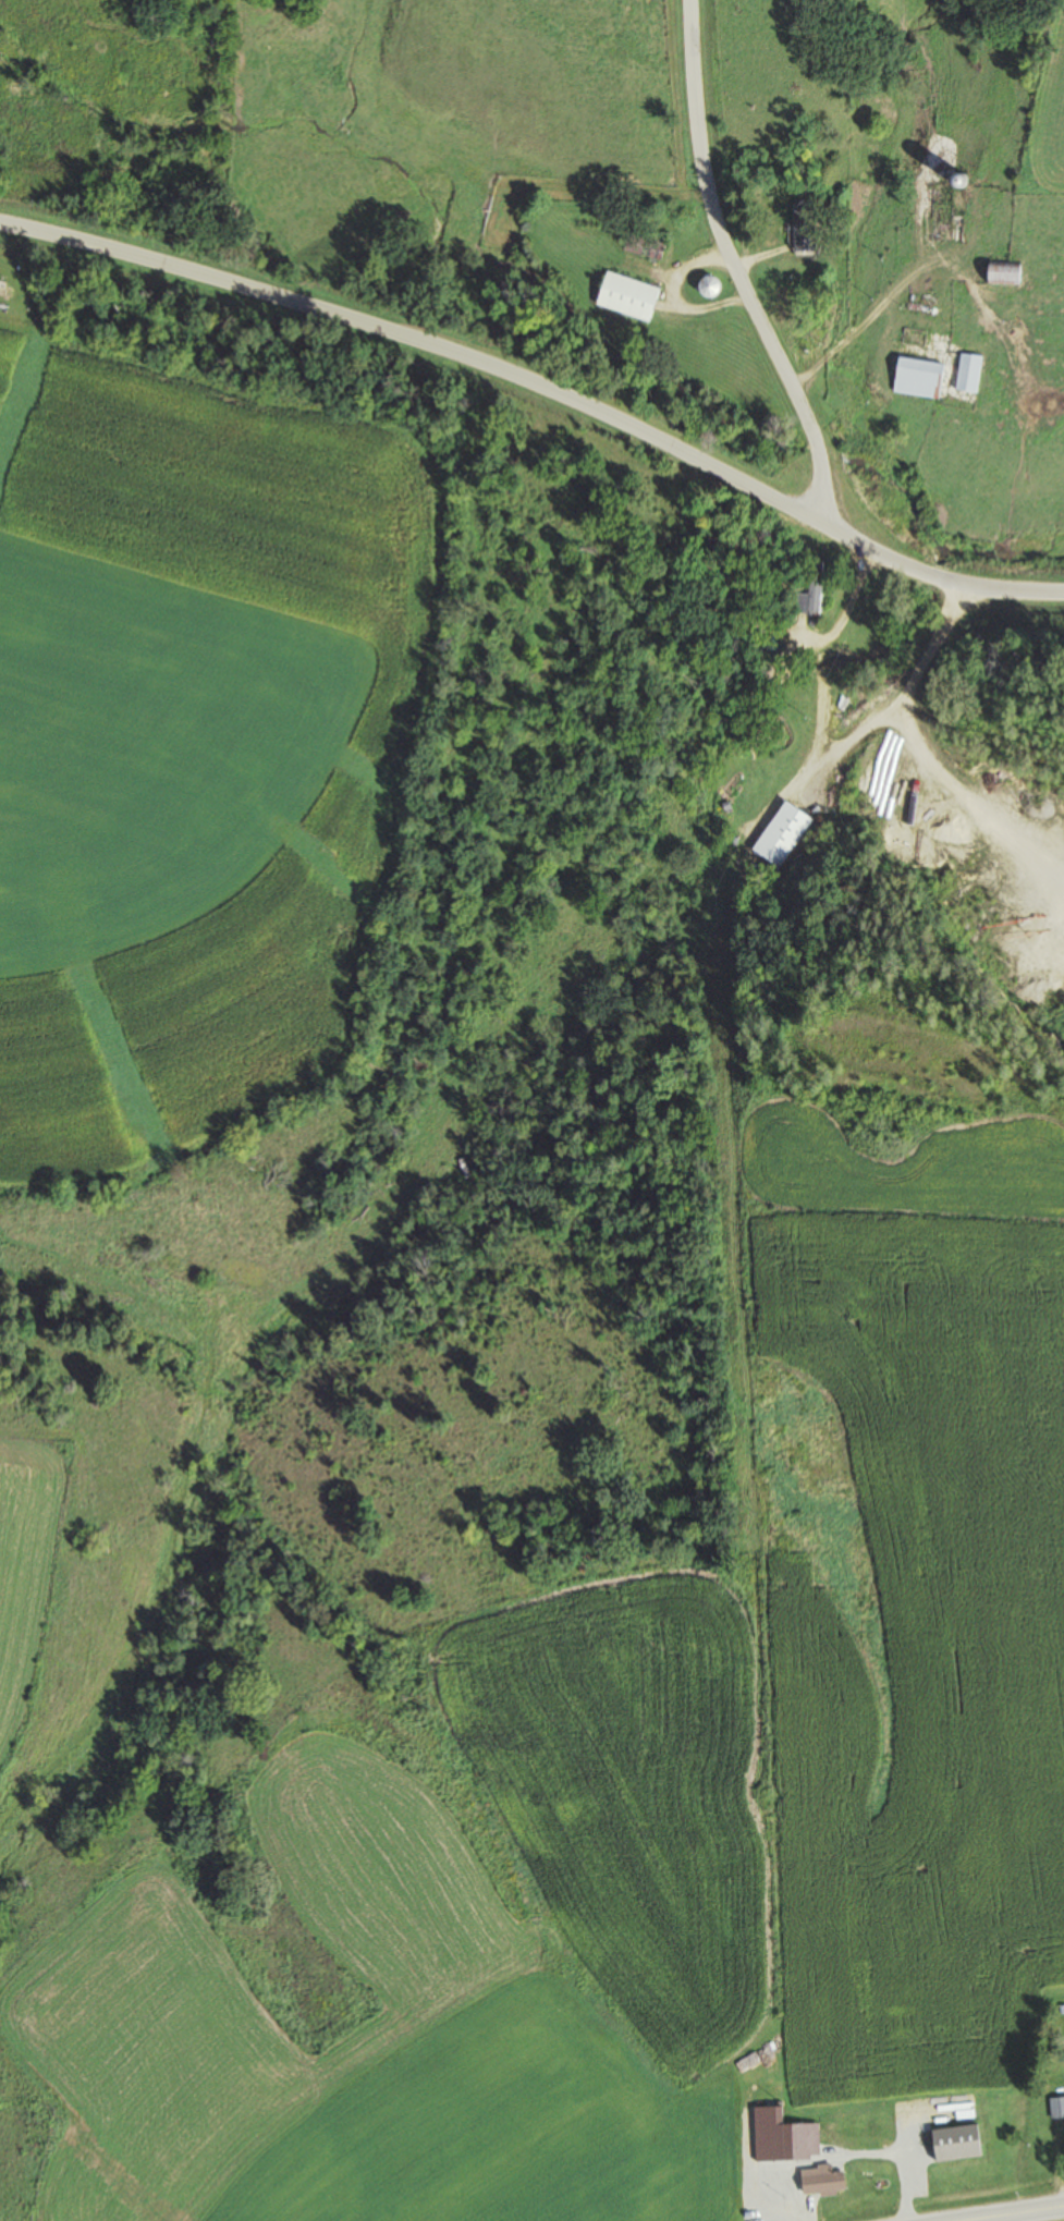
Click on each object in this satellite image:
building: (800, 225)
road: (678, 243)
building: (641, 245)
building: (1001, 271)
building: (706, 285)
building: (626, 295)
building: (967, 371)
building: (916, 377)
road: (537, 405)
building: (812, 586)
building: (1056, 2107)
building: (781, 2137)
building: (950, 2144)
building: (819, 2180)
road: (1011, 2212)

